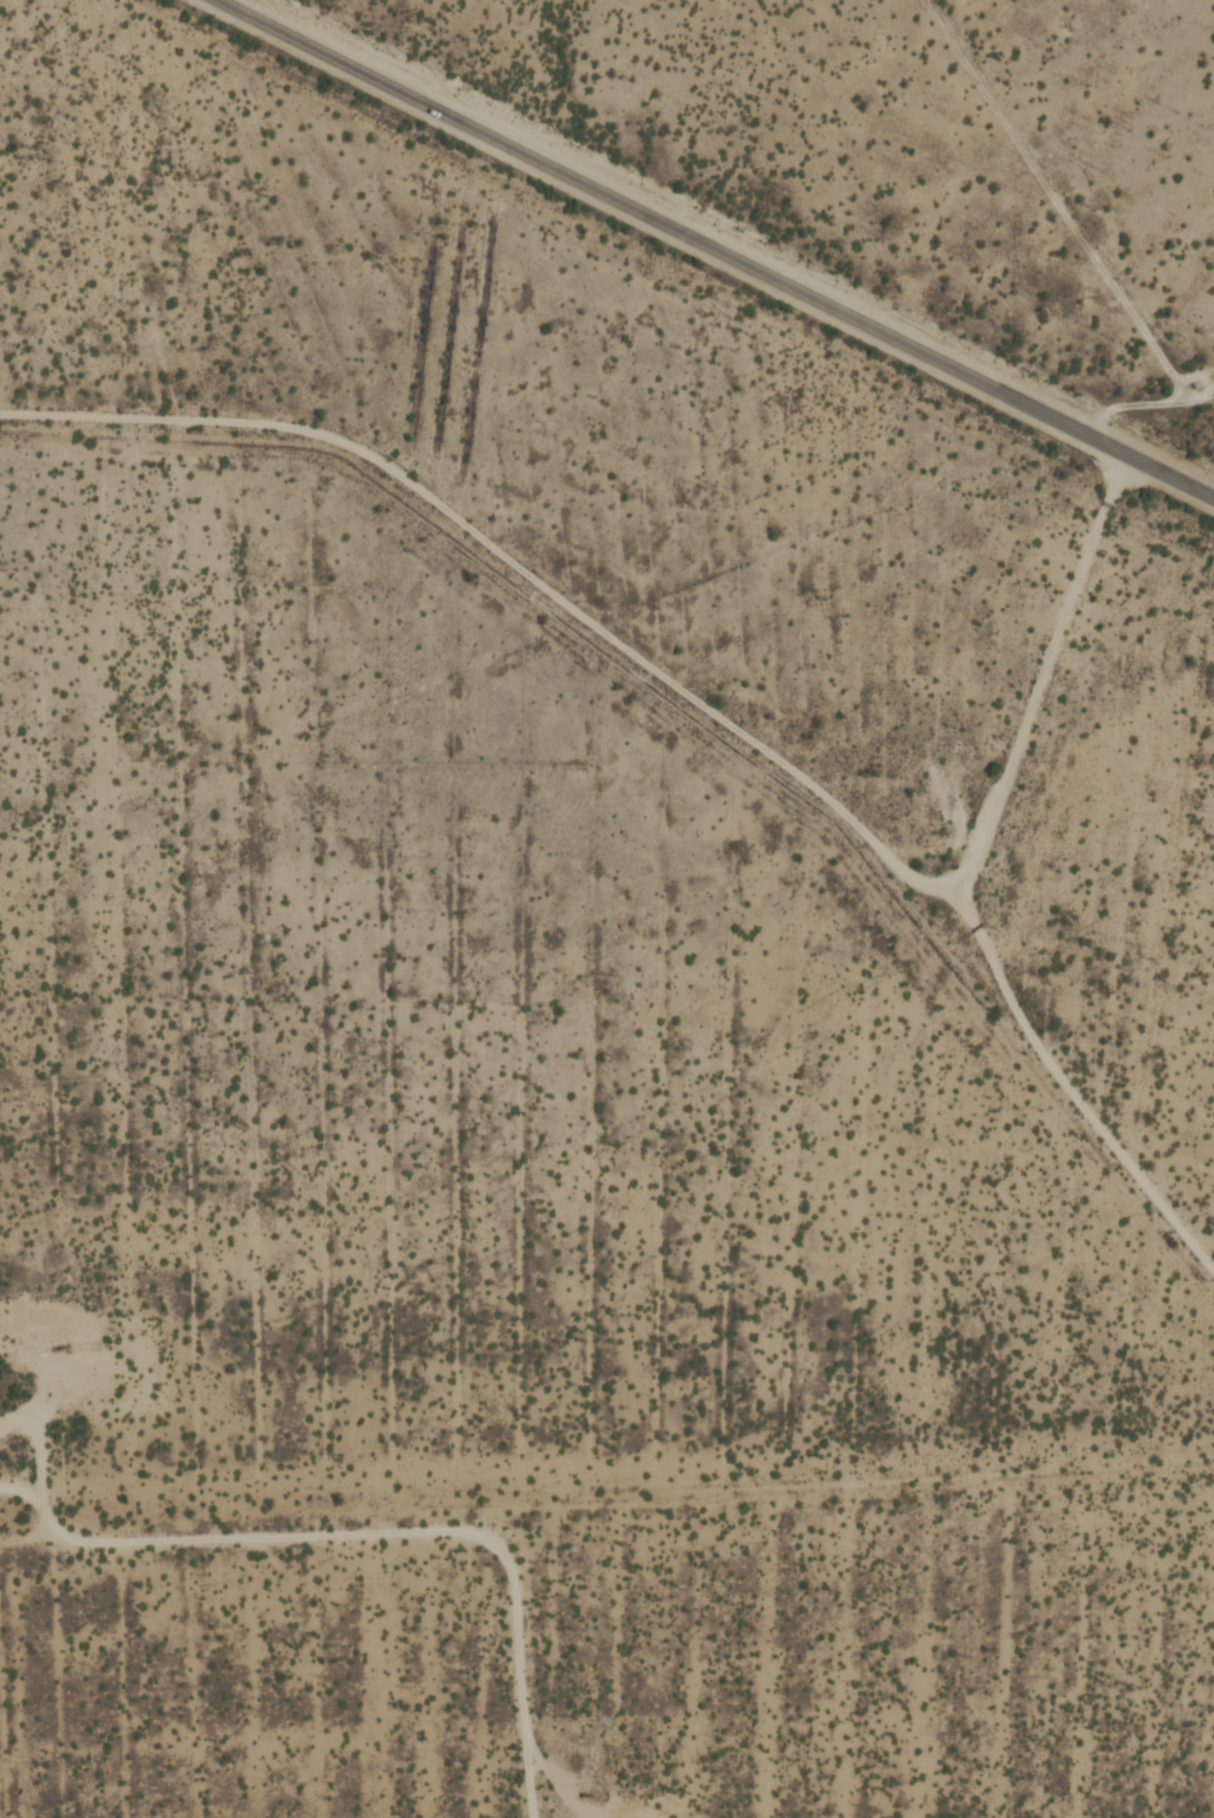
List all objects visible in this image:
road: (716, 248)
road: (539, 580)
road: (1037, 704)
road: (966, 942)
road: (40, 1431)
road: (337, 1535)
road: (30, 1536)
road: (51, 1540)
road: (531, 1741)

